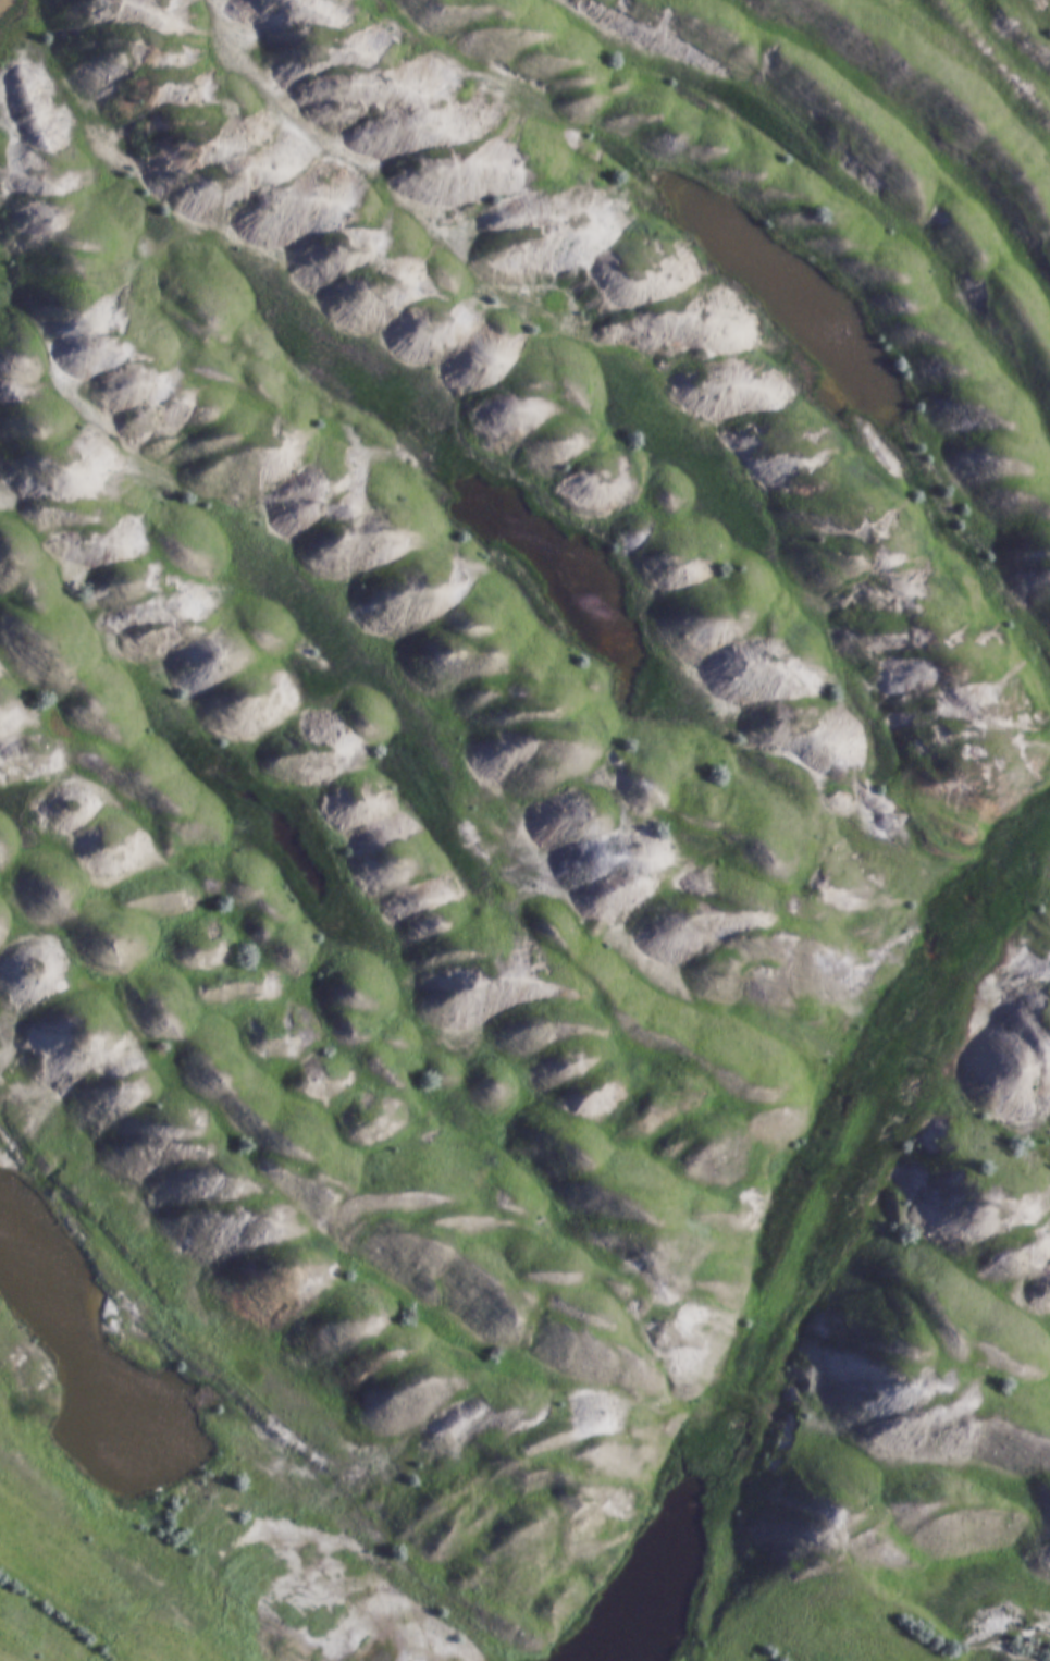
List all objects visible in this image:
quarry: (526, 827)
road: (875, 1093)

